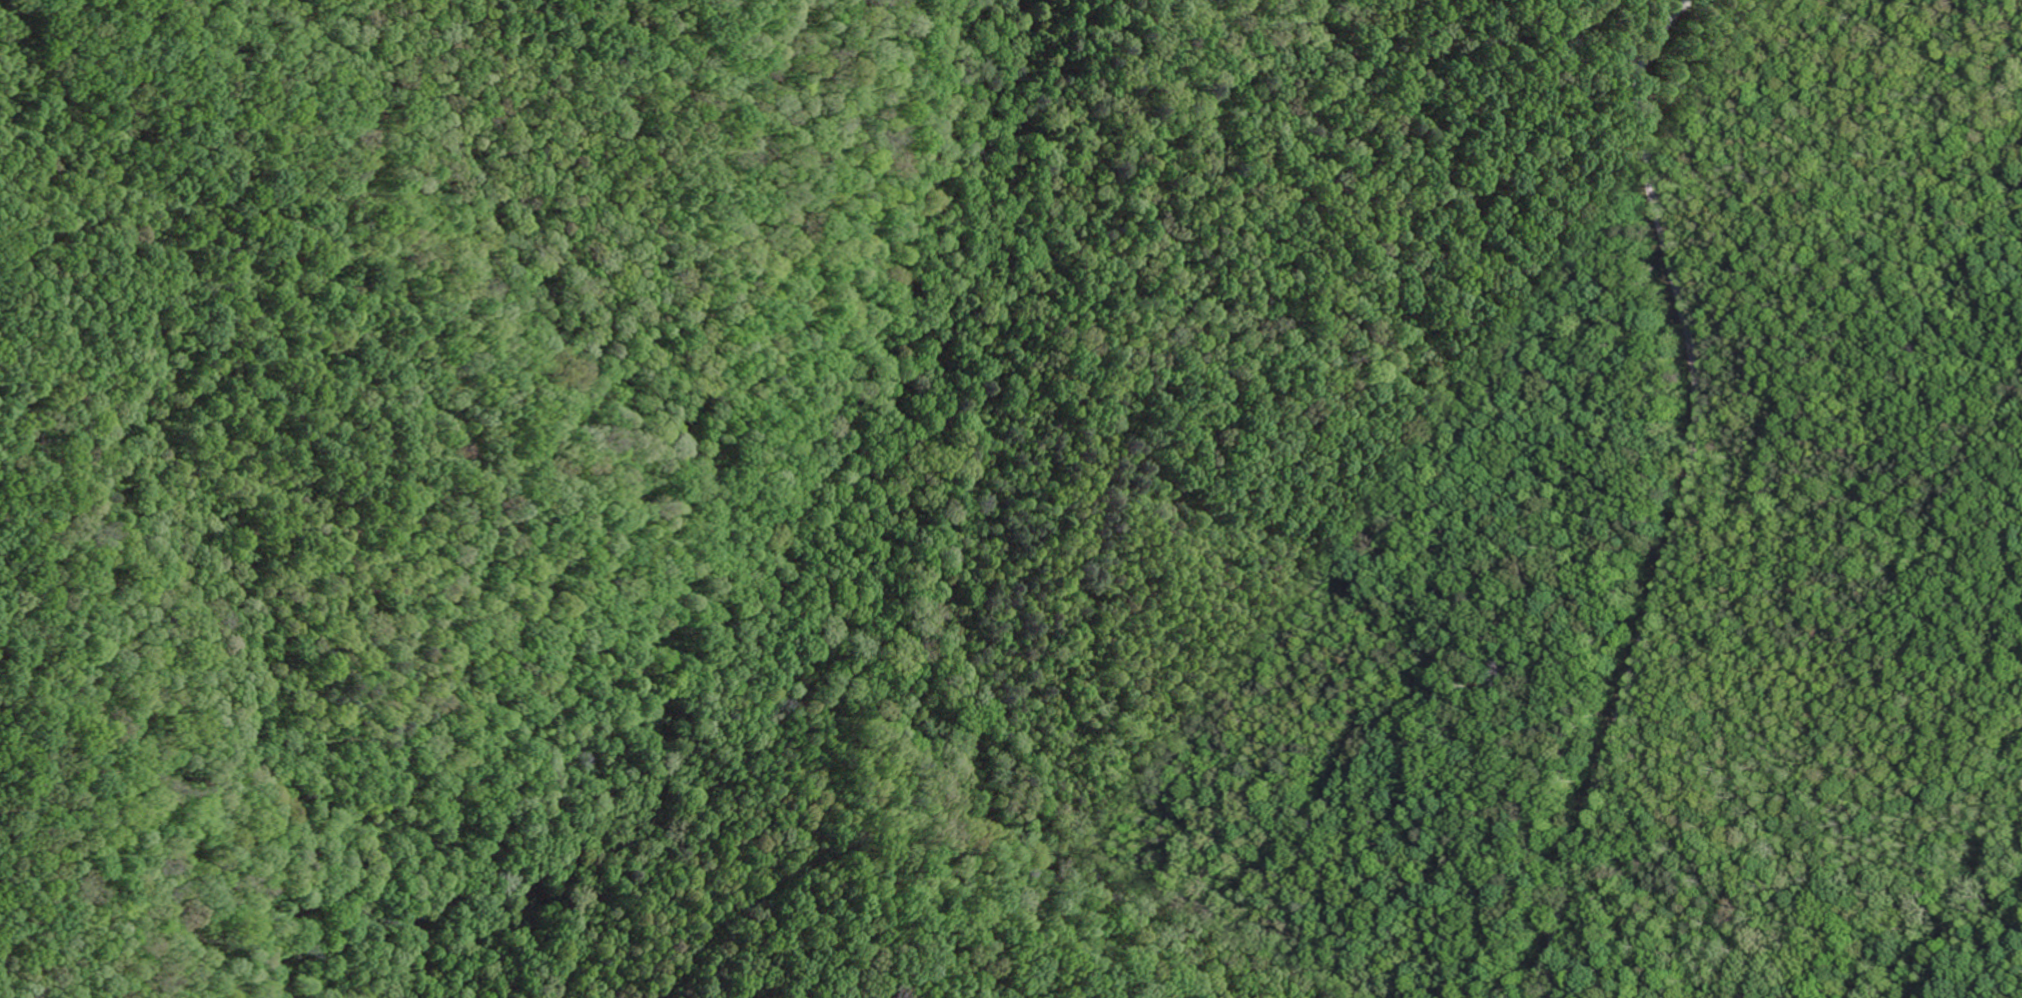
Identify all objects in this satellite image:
road: (1683, 495)

